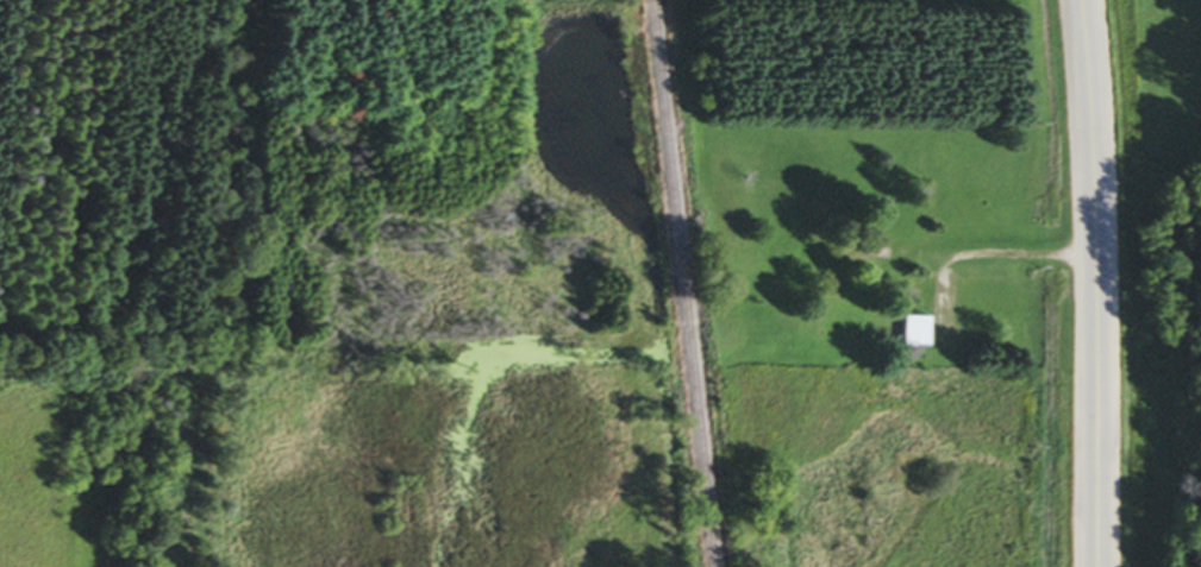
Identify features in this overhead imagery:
road: (1000, 254)
railway: (688, 283)
road: (1097, 283)
building: (919, 330)

